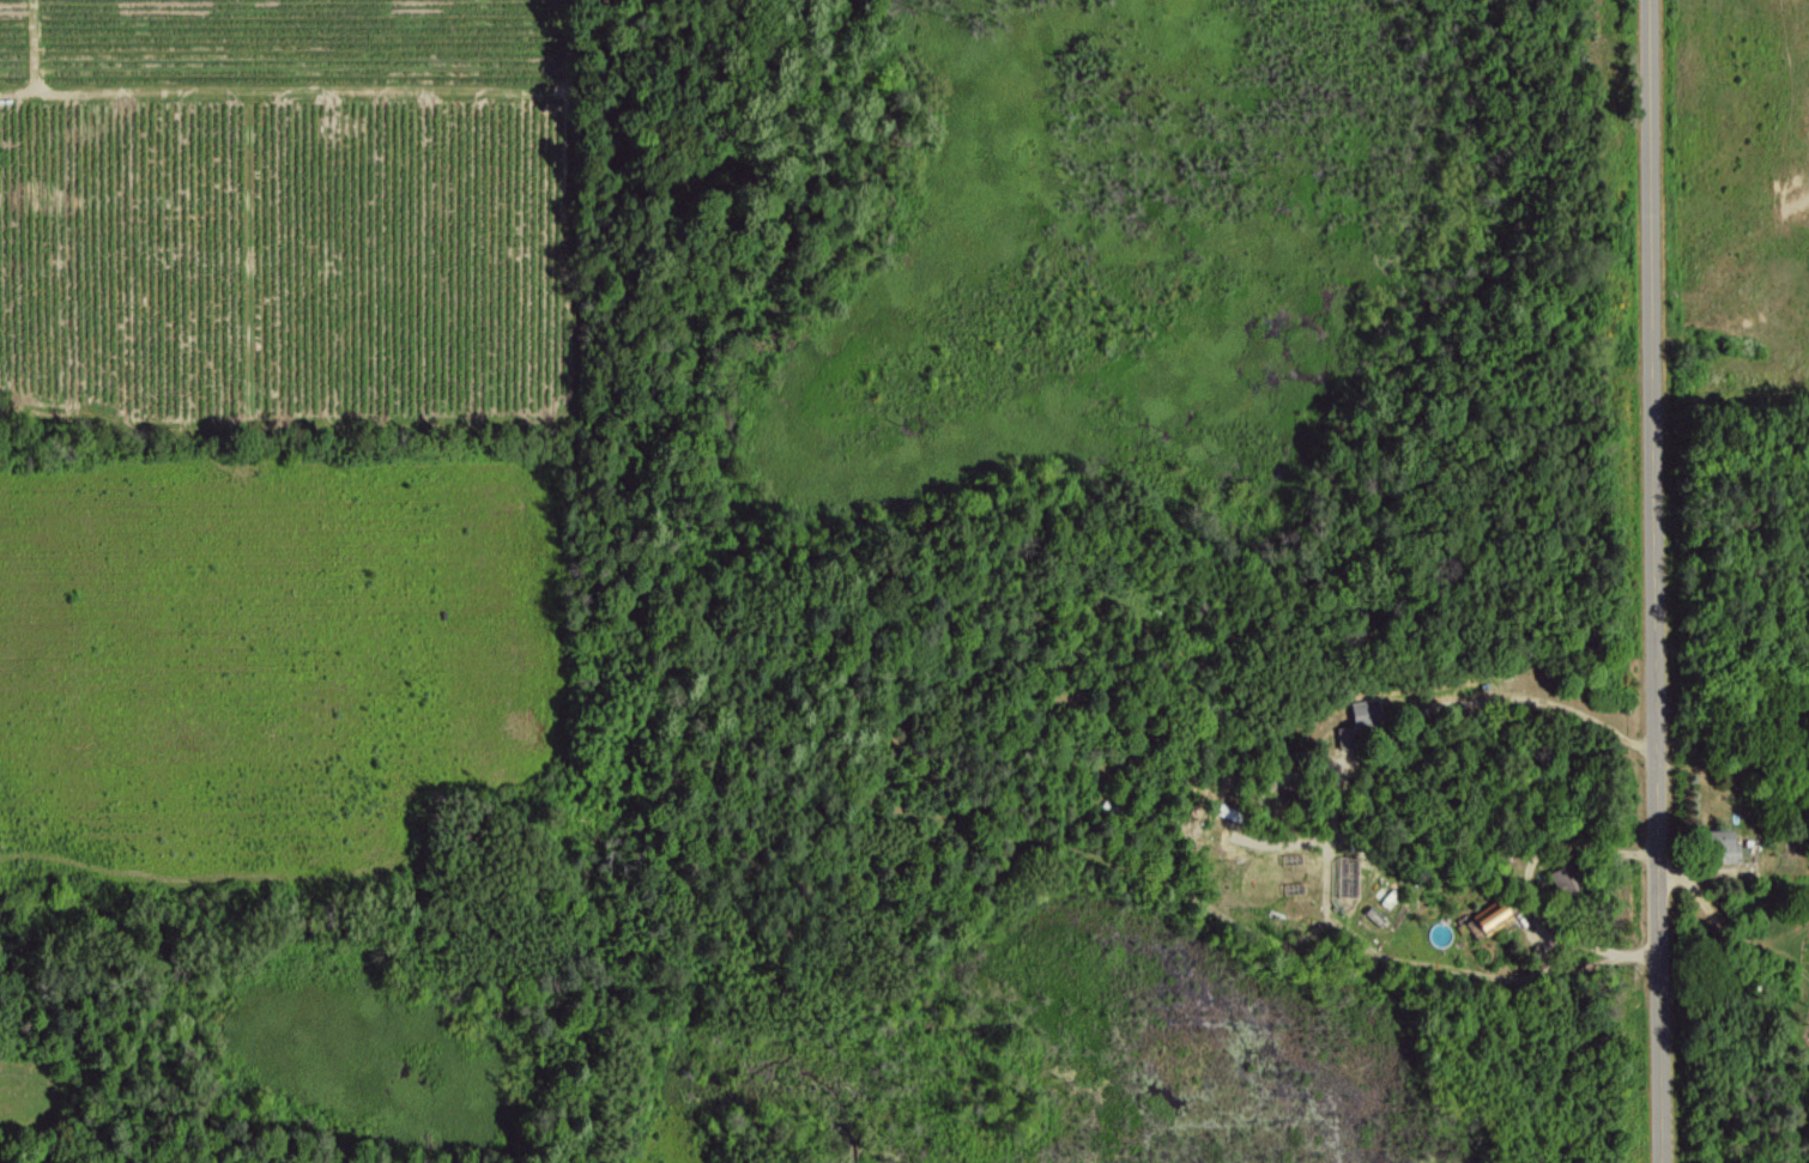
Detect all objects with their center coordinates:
road: (1660, 581)
building: (1357, 720)
building: (1723, 847)
building: (1561, 879)
building: (1488, 917)

